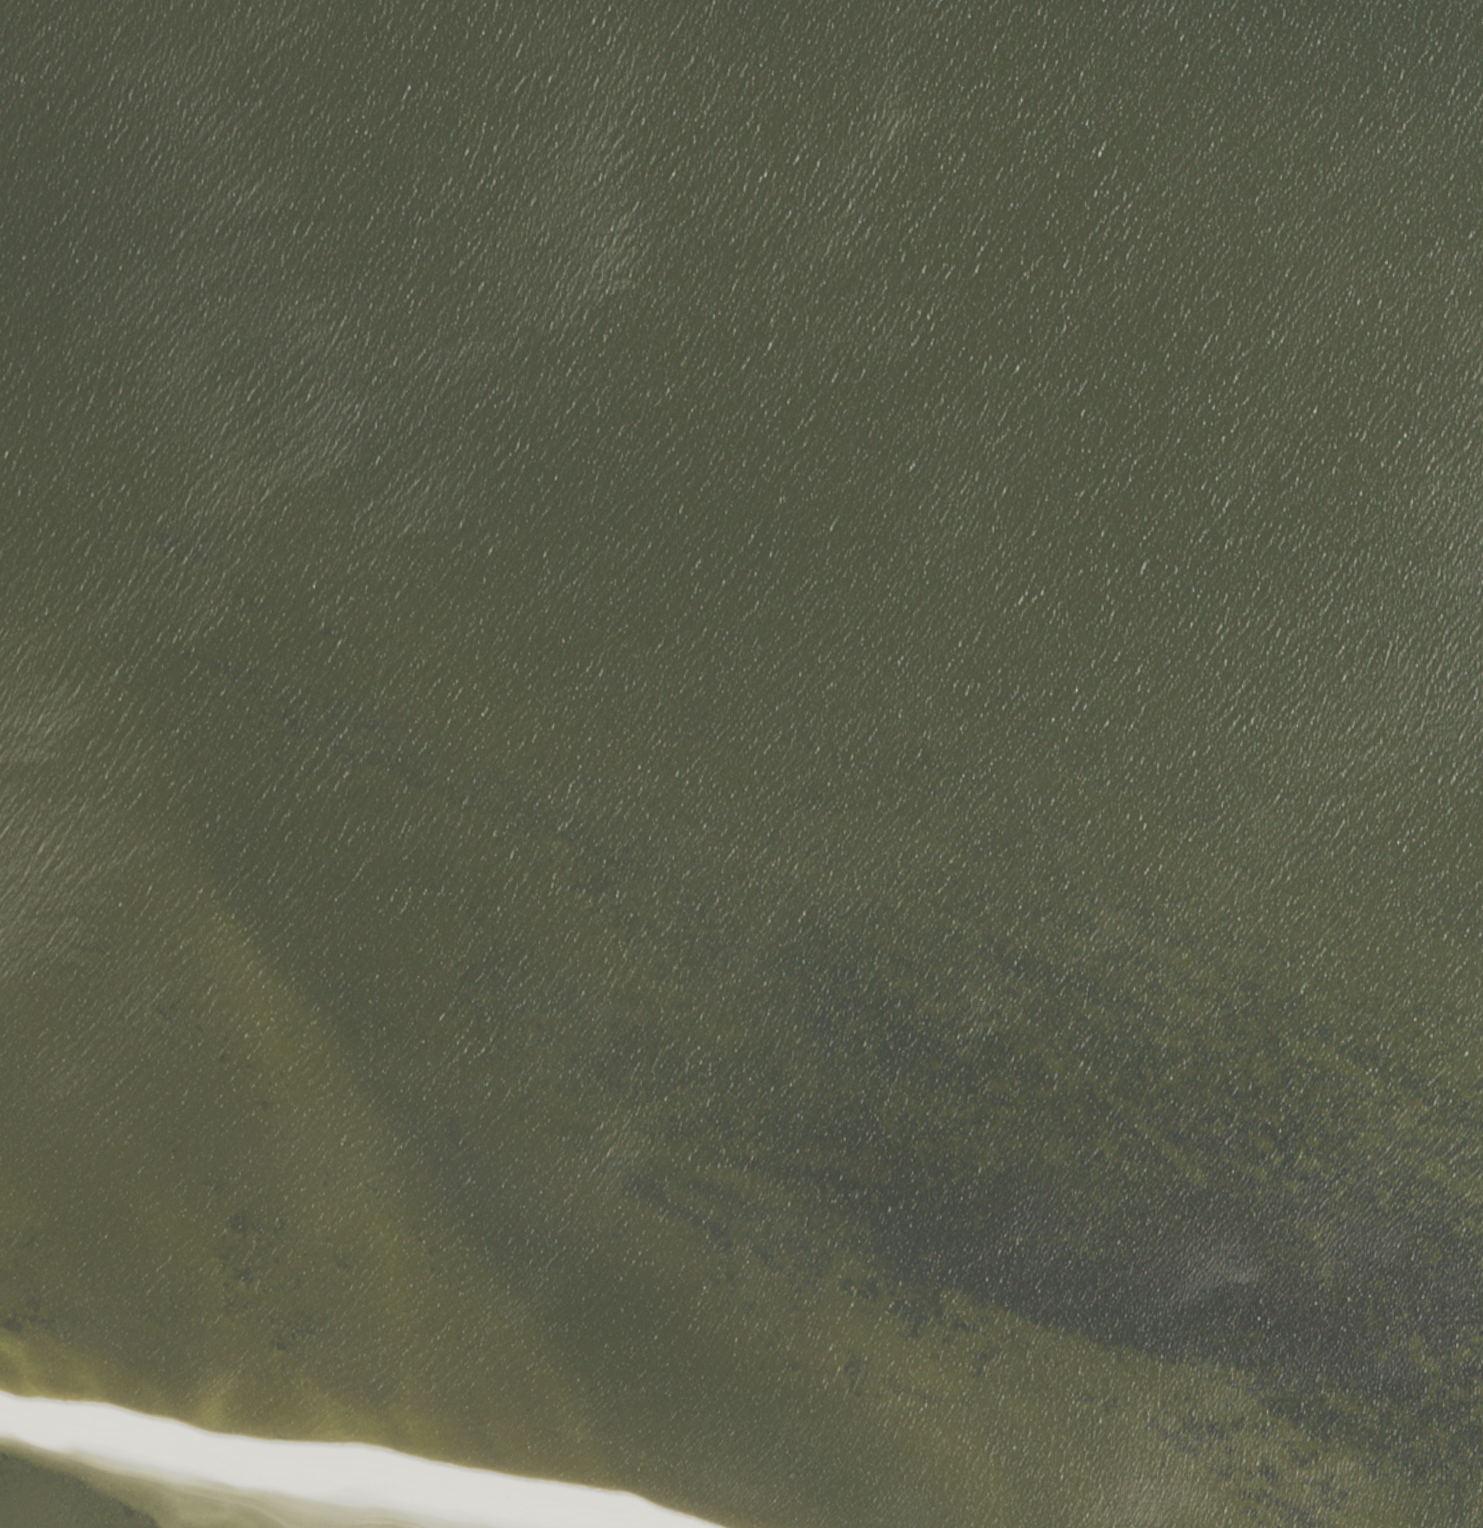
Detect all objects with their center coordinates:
building: (243, 1463)
pier: (228, 1493)

